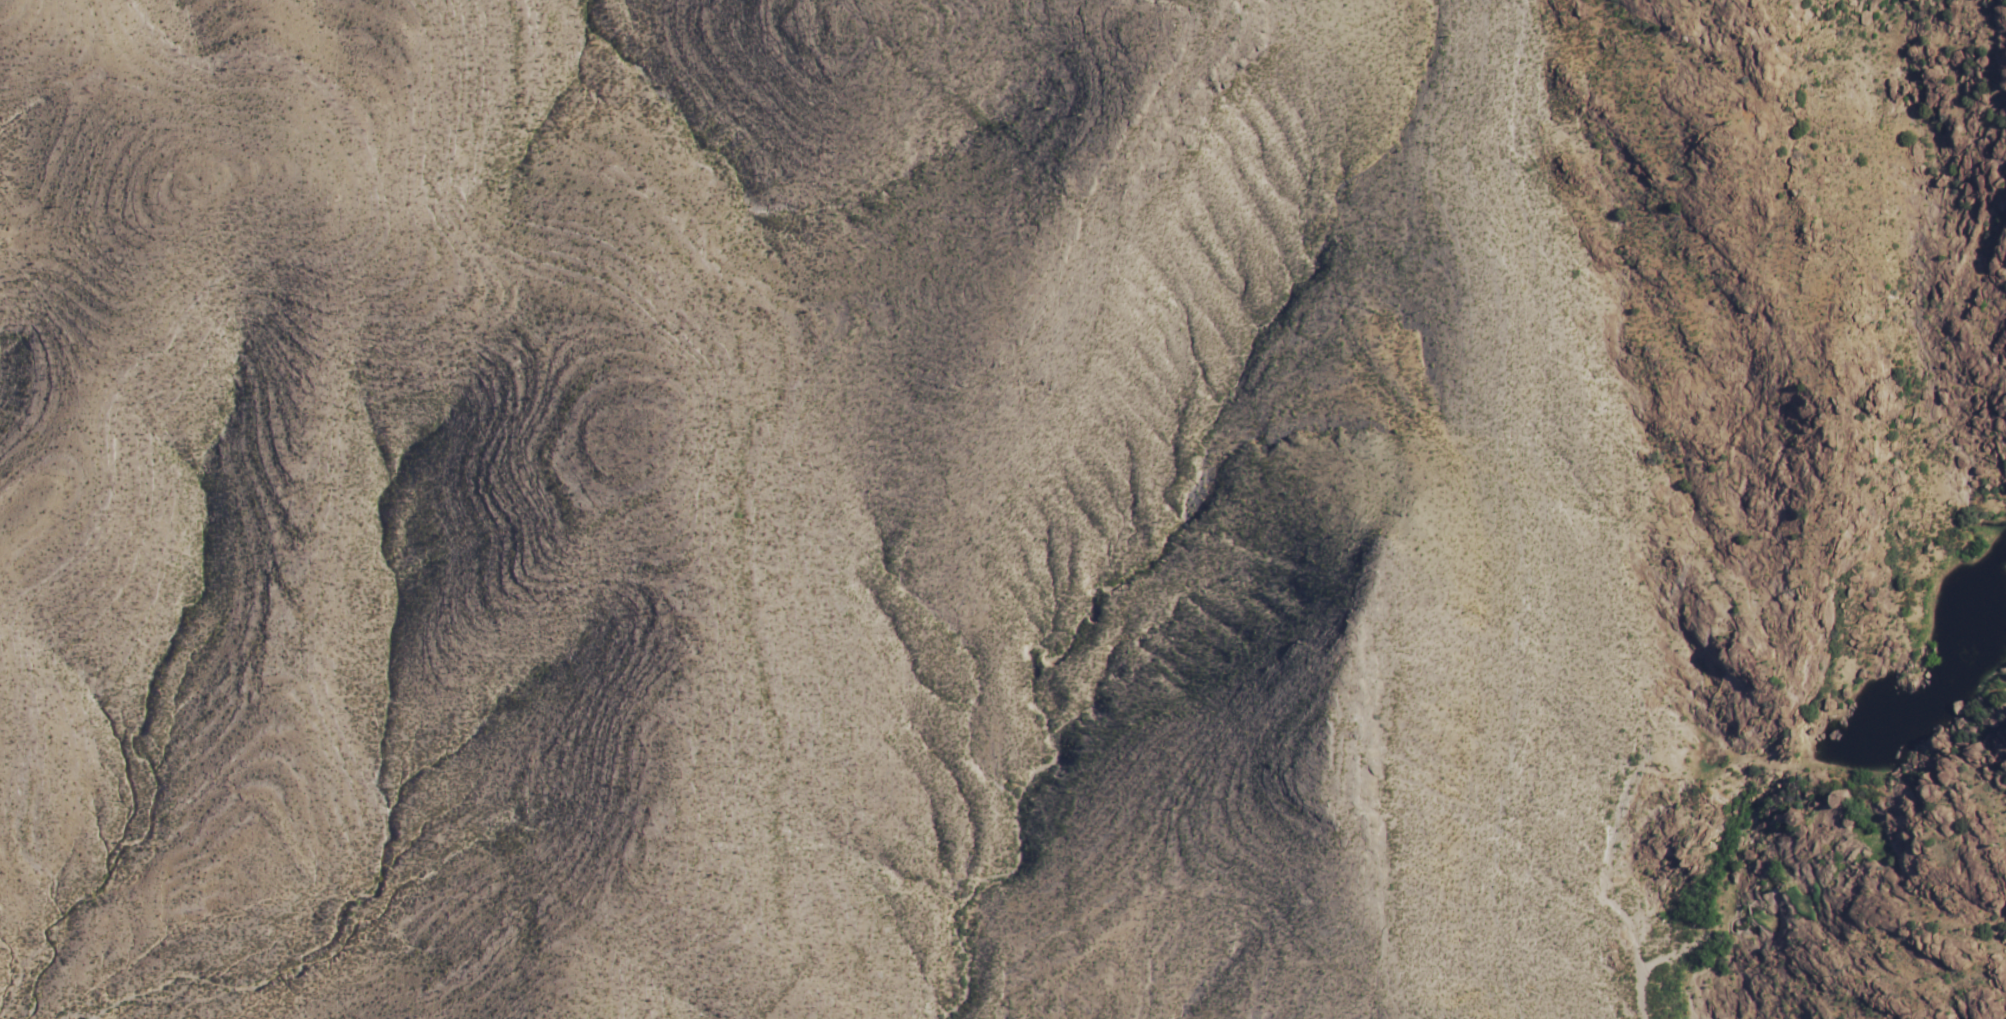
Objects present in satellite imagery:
road: (1651, 979)

